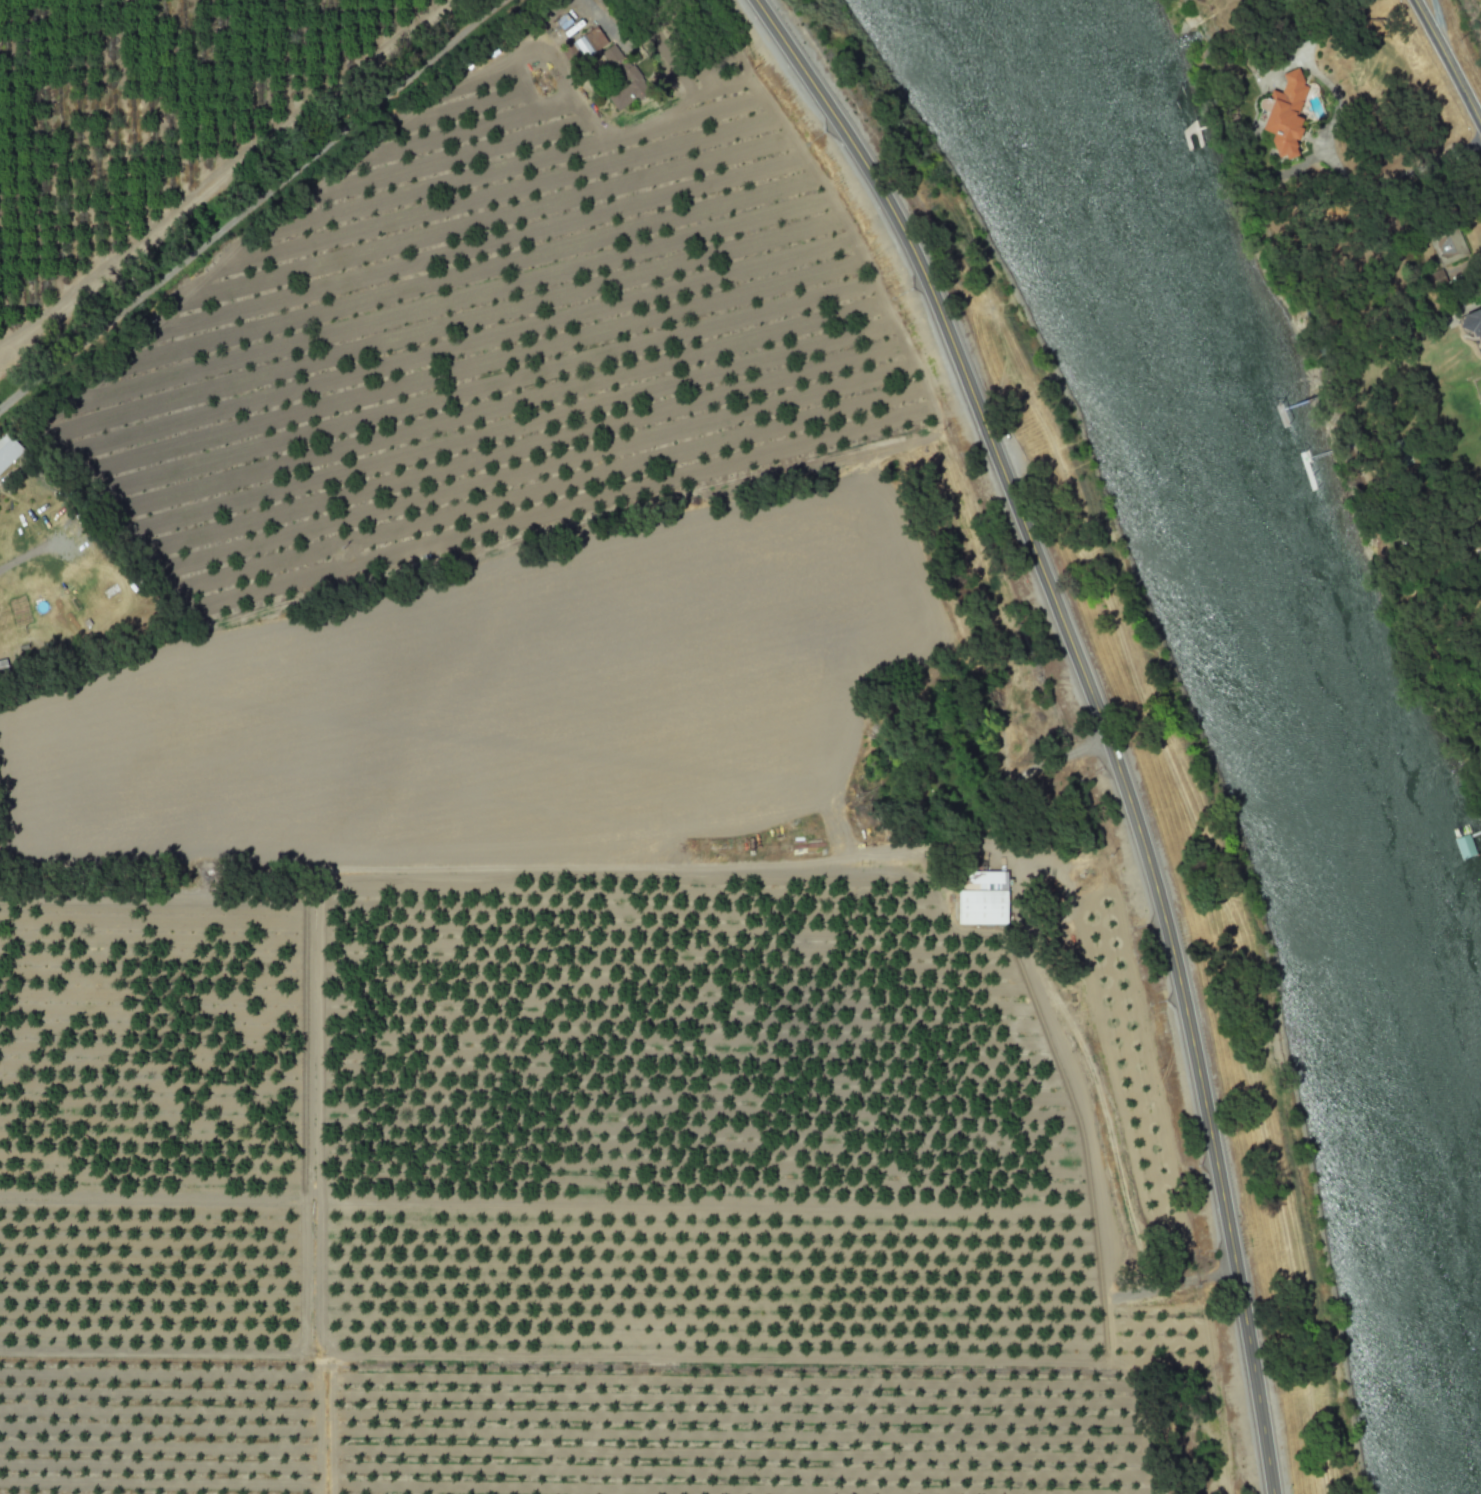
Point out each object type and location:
road: (589, 5)
road: (1435, 19)
building: (589, 41)
road: (1449, 59)
building: (623, 77)
building: (1285, 114)
road: (1328, 145)
road: (251, 204)
building: (1448, 246)
building: (1434, 278)
crop: (420, 288)
building: (1472, 324)
building: (7, 449)
road: (20, 564)
river: (1305, 667)
crop: (503, 692)
road: (1097, 716)
road: (1022, 775)
building: (1464, 846)
building: (982, 897)
crop: (520, 1033)
crop: (560, 1424)

